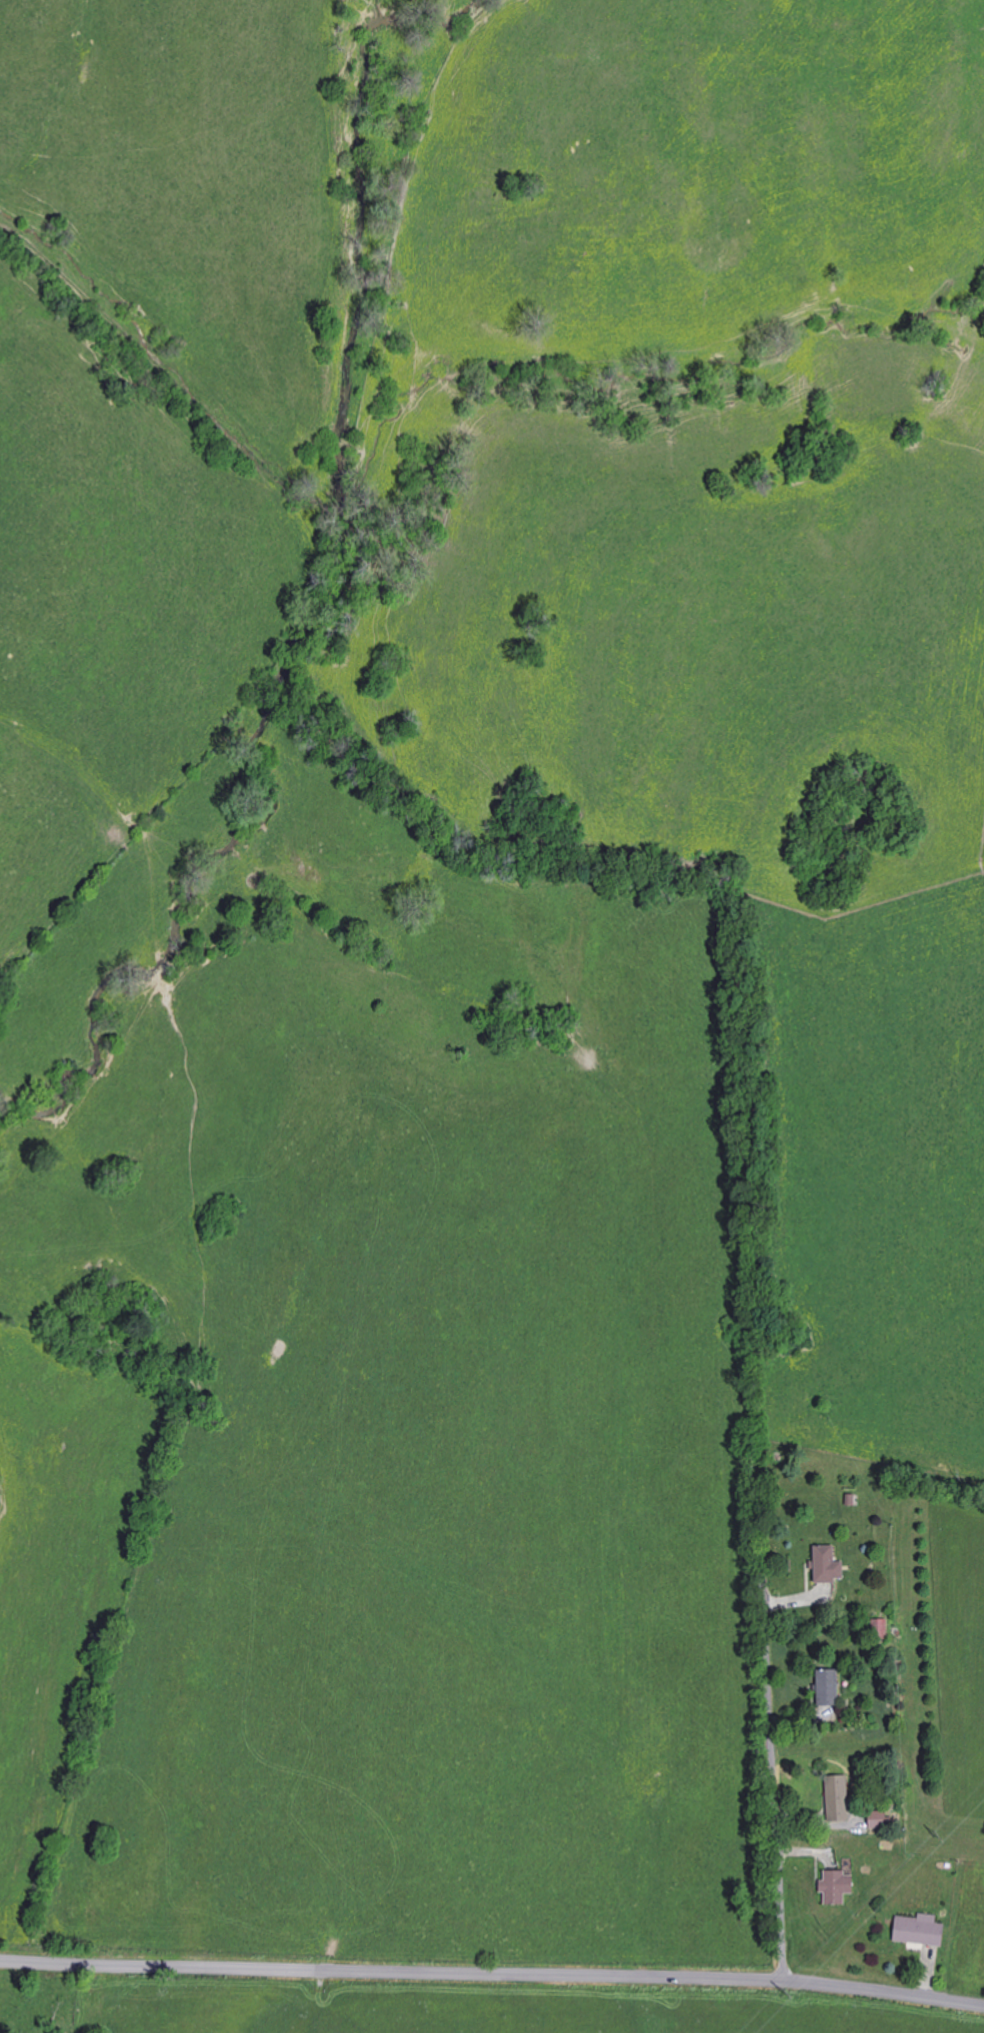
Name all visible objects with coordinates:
building: (827, 1564)
building: (880, 1629)
building: (828, 1687)
road: (773, 1781)
building: (838, 1797)
building: (878, 1818)
building: (836, 1886)
building: (919, 1930)
road: (492, 1977)

